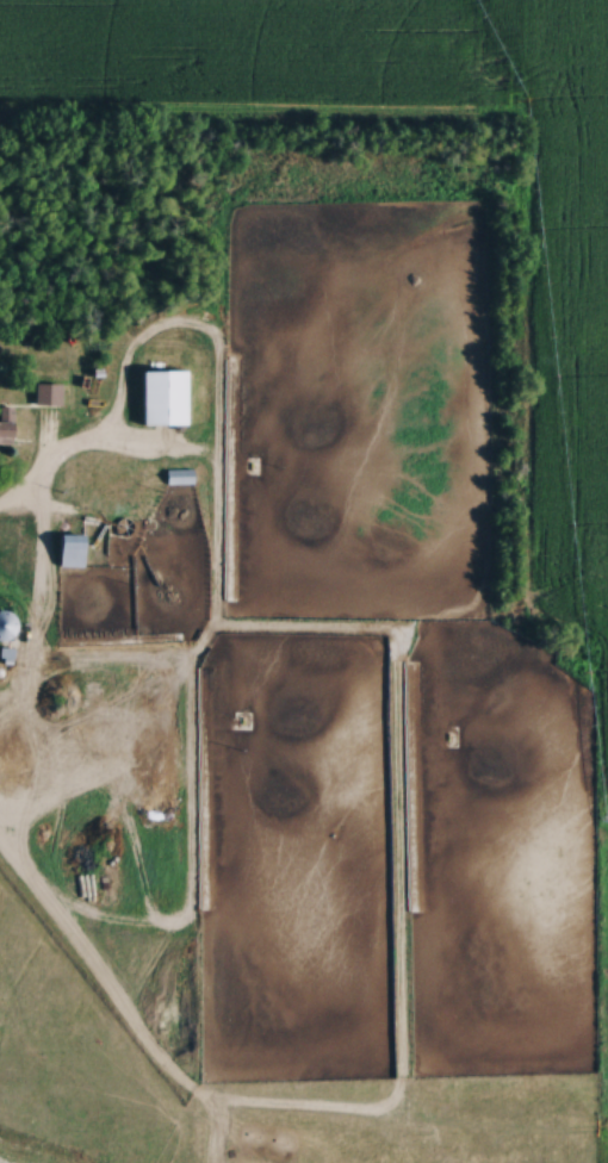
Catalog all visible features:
building: (44, 393)
building: (161, 397)
building: (5, 424)
road: (41, 475)
building: (68, 551)
building: (5, 624)

